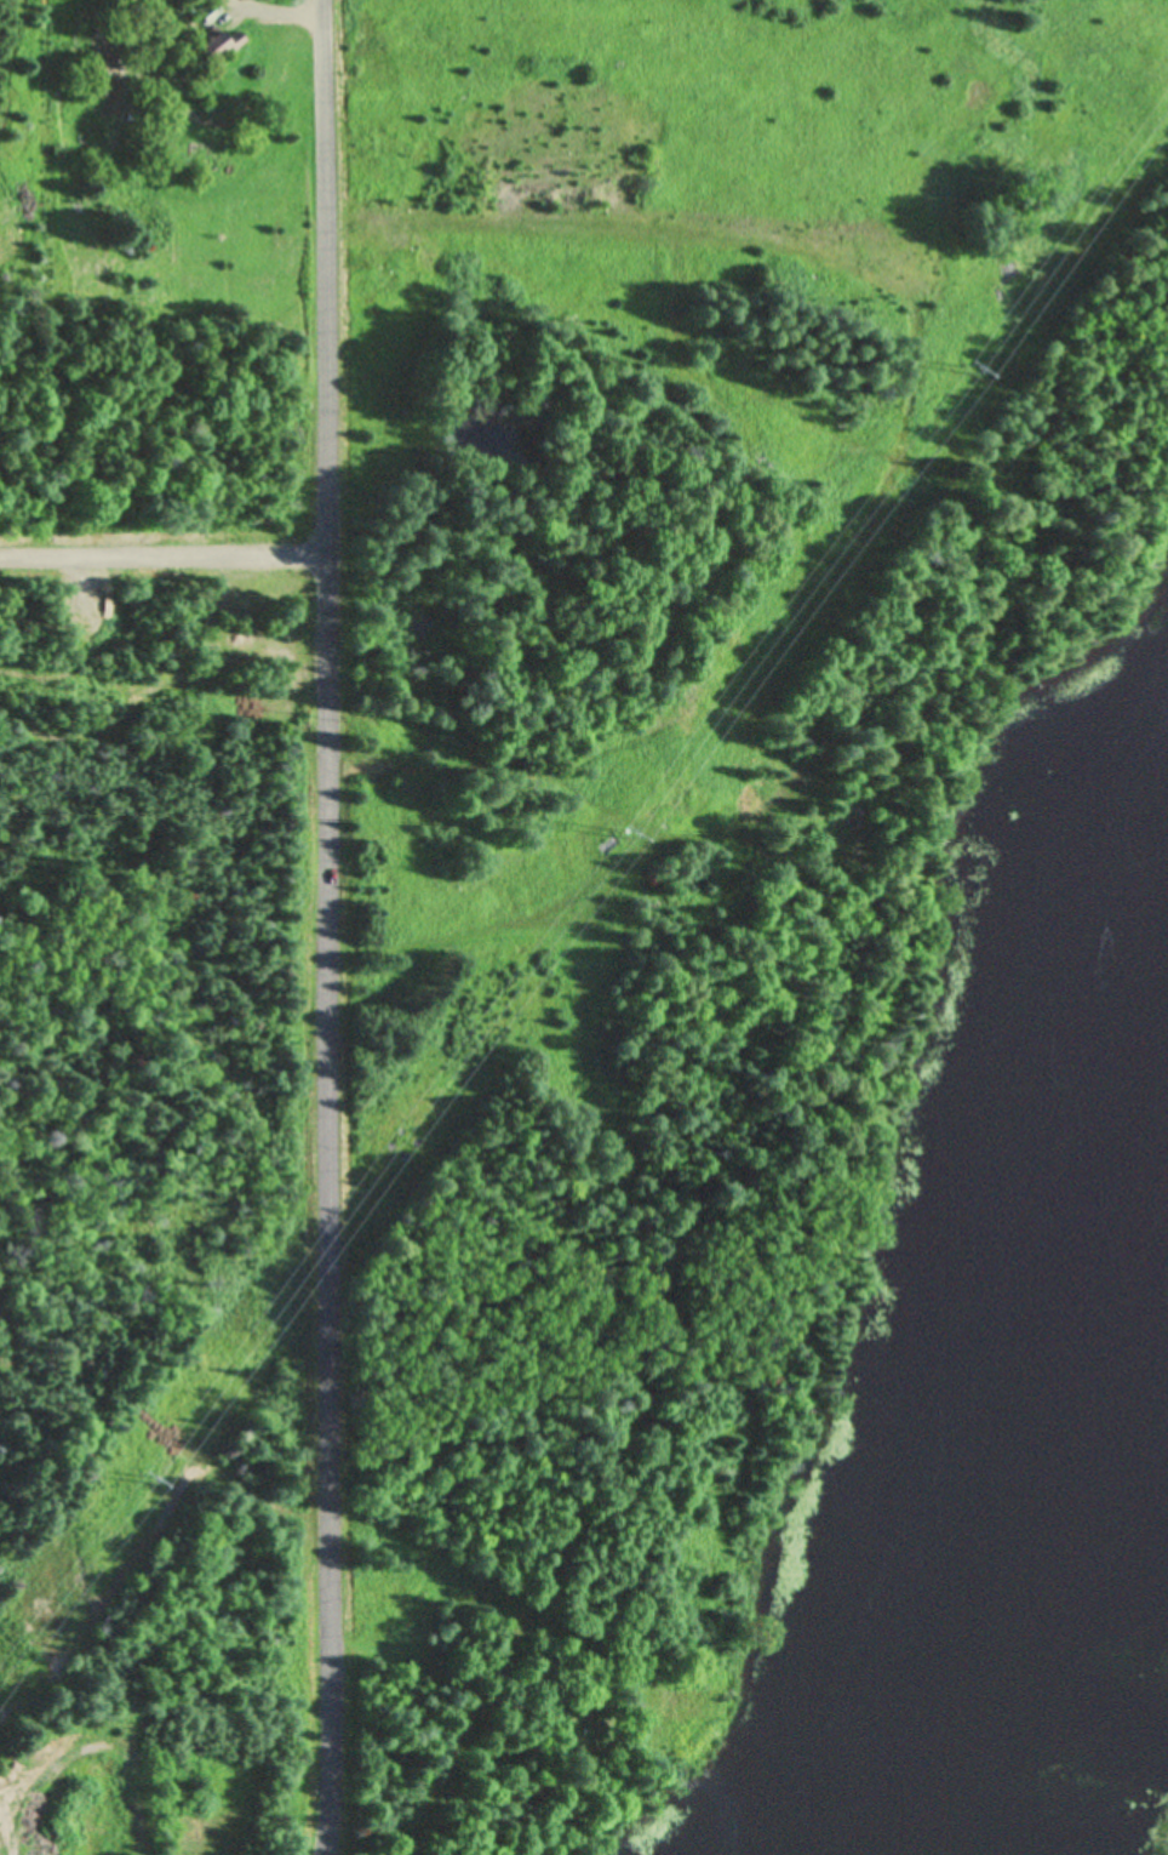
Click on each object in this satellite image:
building: (213, 48)
power tower: (966, 370)
road: (161, 556)
power tower: (623, 835)
road: (325, 927)
river: (1040, 1476)
power tower: (143, 1484)
building: (679, 1706)
park: (160, 1769)

